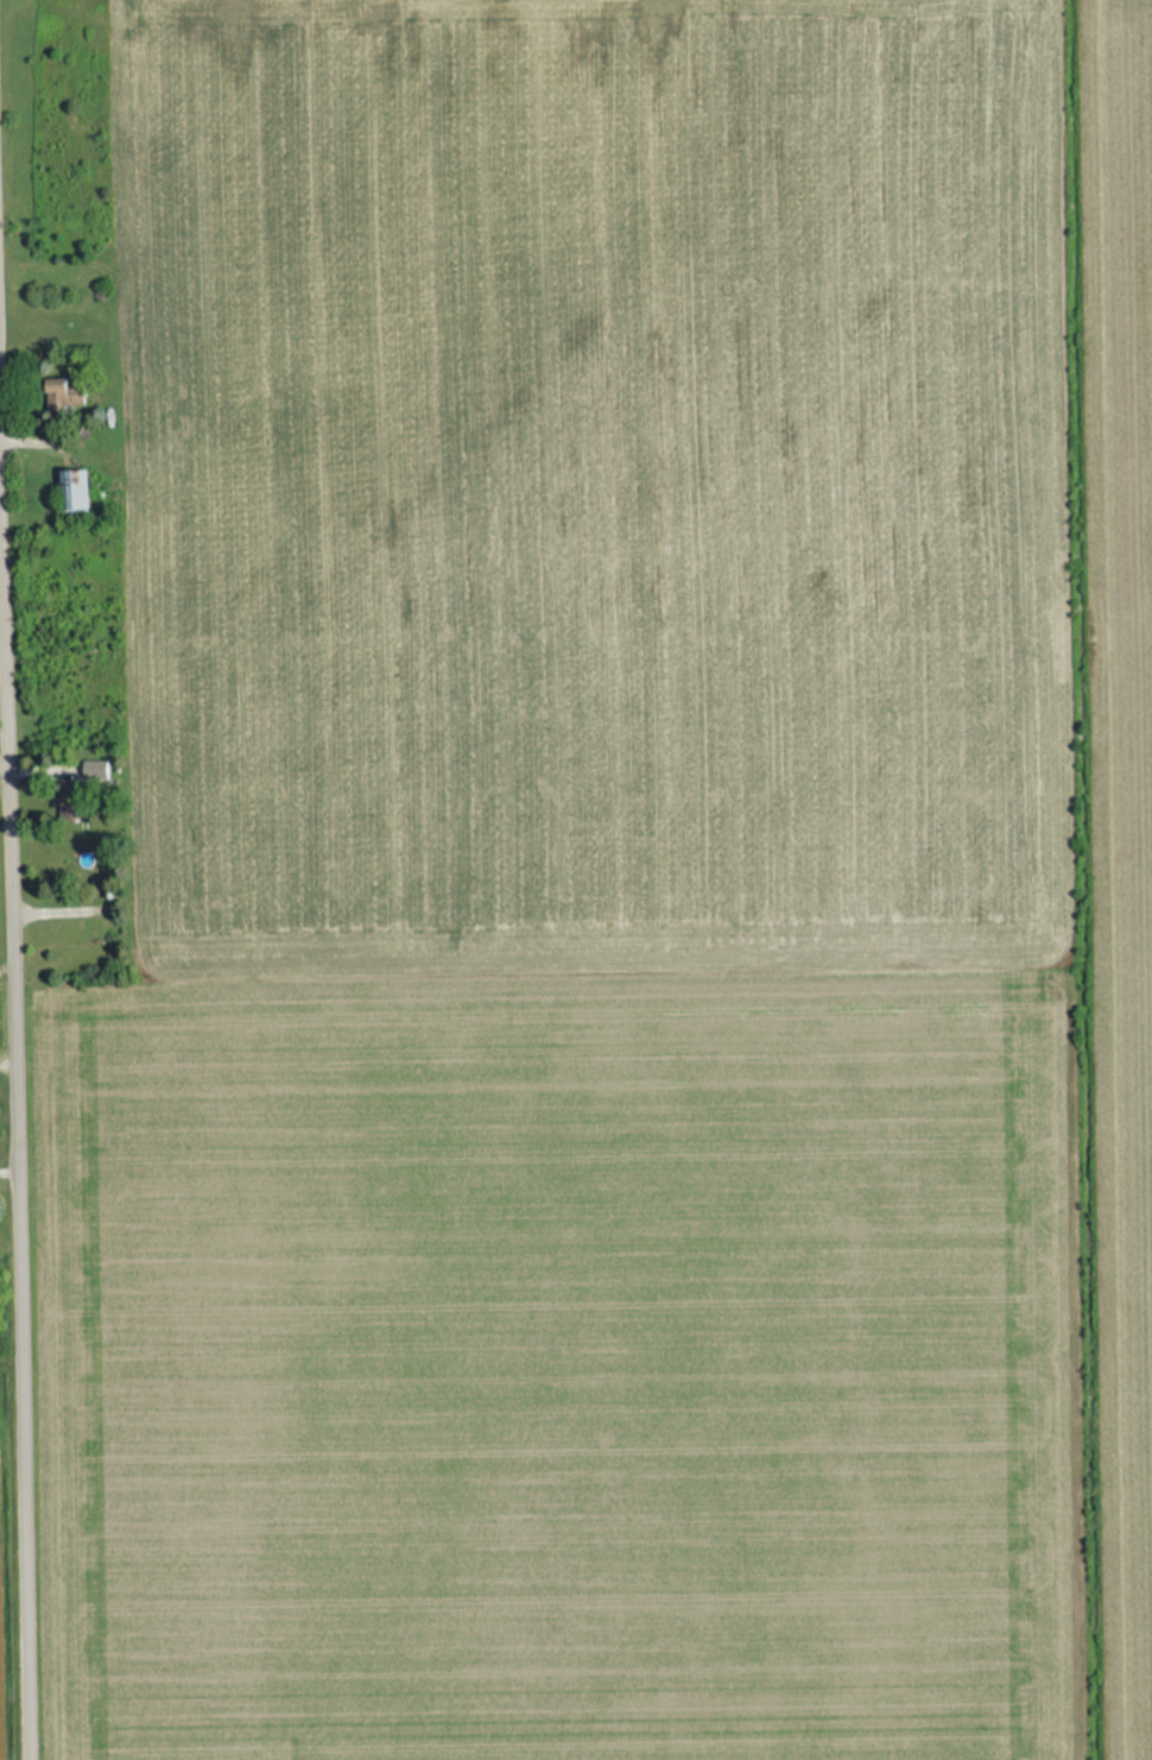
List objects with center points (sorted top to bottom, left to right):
crop: (584, 475)
building: (67, 487)
crop: (1114, 768)
road: (12, 999)
crop: (550, 1369)

